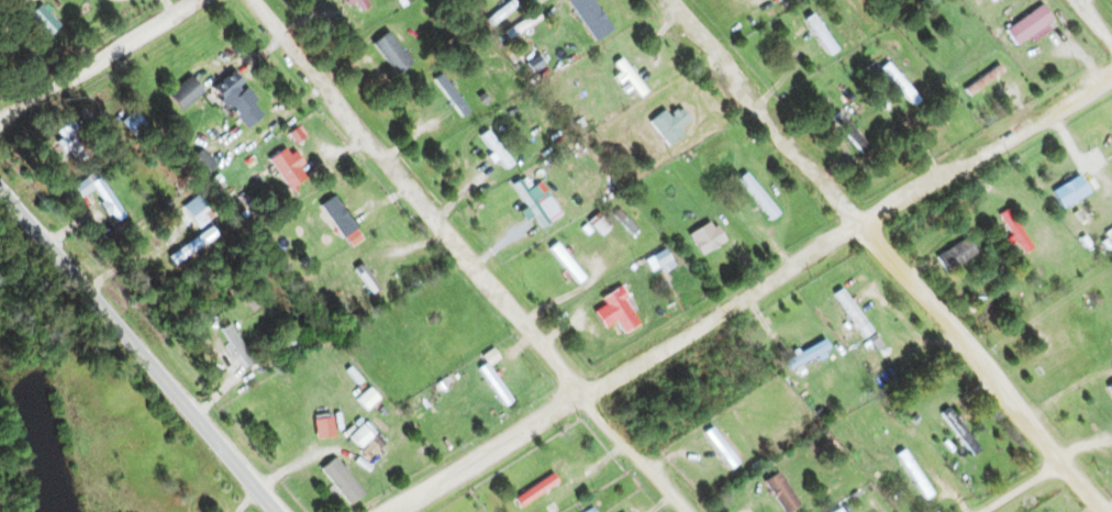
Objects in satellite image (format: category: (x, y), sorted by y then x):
building: (359, 4)
building: (585, 16)
building: (44, 22)
road: (1091, 24)
building: (1030, 25)
building: (820, 33)
building: (391, 54)
road: (99, 57)
building: (630, 78)
building: (983, 81)
building: (900, 85)
building: (186, 93)
building: (451, 96)
building: (241, 104)
building: (670, 126)
building: (850, 134)
building: (496, 149)
building: (200, 163)
building: (1071, 192)
building: (759, 197)
building: (337, 218)
building: (600, 224)
building: (1016, 232)
building: (709, 241)
road: (885, 255)
building: (957, 256)
road: (466, 258)
building: (567, 264)
building: (365, 280)
road: (749, 290)
building: (618, 312)
road: (137, 350)
building: (494, 386)
building: (960, 431)
building: (365, 441)
building: (914, 474)
building: (342, 481)
road: (1018, 486)
road: (246, 500)
building: (839, 511)

